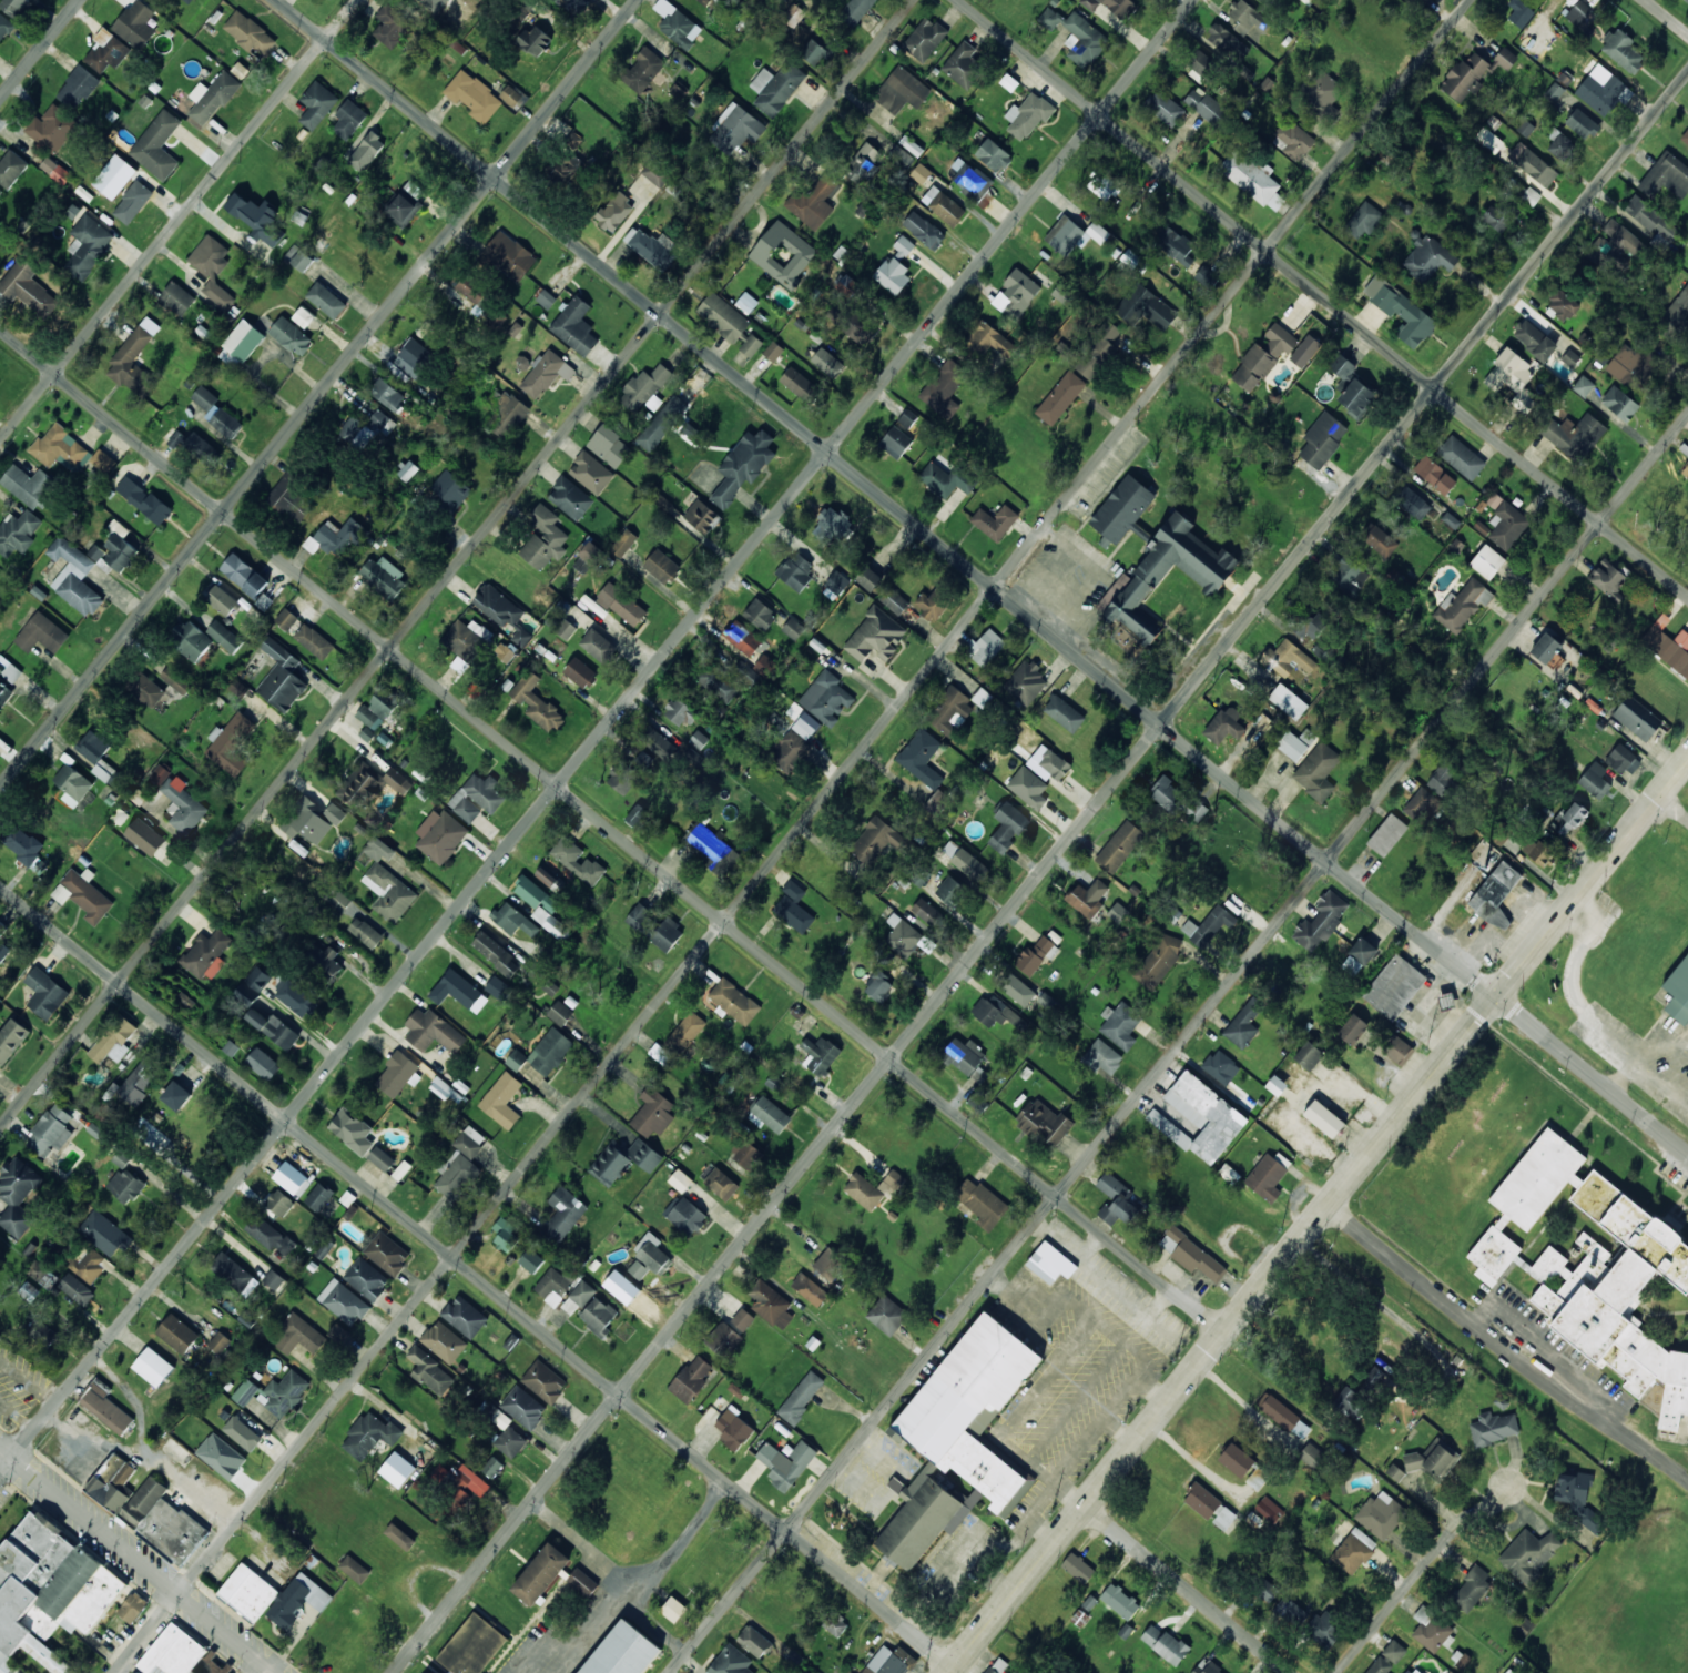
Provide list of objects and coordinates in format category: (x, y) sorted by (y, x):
building: (1687, 0)
building: (187, 1)
building: (704, 1)
building: (1308, 1)
building: (573, 4)
building: (1114, 6)
building: (17, 7)
building: (521, 11)
building: (855, 11)
building: (1578, 11)
building: (1521, 12)
building: (1243, 16)
road: (1667, 17)
building: (135, 23)
building: (390, 24)
building: (678, 24)
building: (4, 26)
building: (248, 32)
building: (1077, 34)
building: (925, 38)
building: (535, 40)
building: (1228, 41)
road: (40, 49)
building: (1623, 50)
building: (106, 51)
building: (814, 52)
building: (1201, 62)
building: (963, 65)
building: (644, 70)
building: (1474, 72)
building: (78, 88)
building: (776, 88)
building: (1601, 89)
building: (902, 90)
building: (1554, 92)
building: (1323, 94)
building: (472, 95)
building: (512, 95)
building: (212, 97)
building: (317, 104)
building: (1163, 107)
building: (1207, 107)
building: (1028, 114)
building: (349, 119)
building: (1582, 123)
building: (52, 128)
building: (735, 128)
building: (570, 136)
building: (1685, 136)
building: (1489, 139)
building: (1293, 140)
building: (157, 145)
building: (1562, 146)
building: (367, 151)
building: (903, 155)
building: (993, 155)
building: (864, 162)
building: (1533, 164)
building: (568, 165)
building: (11, 168)
building: (55, 170)
building: (657, 172)
building: (921, 173)
building: (1666, 176)
building: (1252, 178)
building: (970, 179)
building: (1102, 185)
building: (1522, 191)
building: (133, 202)
building: (814, 202)
building: (405, 205)
building: (943, 205)
building: (614, 212)
building: (1643, 212)
building: (1501, 214)
building: (255, 215)
road: (177, 220)
building: (1362, 220)
building: (924, 230)
building: (1074, 234)
building: (1176, 245)
building: (88, 246)
building: (652, 246)
building: (1619, 246)
building: (783, 254)
building: (510, 255)
building: (299, 257)
building: (1427, 258)
building: (895, 267)
building: (212, 268)
building: (1206, 276)
building: (847, 285)
building: (28, 288)
building: (474, 291)
building: (1016, 293)
building: (177, 297)
road: (1323, 297)
building: (326, 300)
building: (746, 302)
building: (1562, 304)
building: (1146, 307)
building: (1678, 308)
building: (1401, 311)
building: (304, 316)
building: (723, 316)
building: (850, 320)
building: (574, 325)
building: (291, 335)
building: (988, 339)
building: (1534, 339)
building: (242, 342)
building: (751, 345)
building: (1097, 349)
building: (773, 351)
building: (133, 357)
building: (414, 357)
building: (1263, 357)
building: (1570, 357)
building: (826, 362)
building: (1628, 365)
building: (1342, 371)
building: (546, 373)
building: (1514, 381)
building: (800, 385)
building: (1583, 385)
building: (647, 387)
building: (944, 387)
road: (317, 393)
building: (388, 394)
building: (1060, 397)
building: (1356, 397)
building: (1619, 403)
building: (216, 413)
building: (504, 414)
building: (664, 419)
building: (363, 429)
building: (899, 434)
building: (1575, 434)
building: (1323, 438)
building: (195, 445)
building: (610, 446)
building: (61, 448)
building: (1462, 457)
building: (103, 463)
building: (743, 465)
building: (408, 470)
building: (1685, 470)
building: (591, 472)
building: (1435, 474)
building: (945, 479)
building: (30, 485)
building: (451, 488)
building: (289, 497)
building: (570, 498)
building: (143, 499)
building: (1494, 500)
building: (1412, 503)
building: (1122, 510)
building: (701, 516)
building: (995, 521)
building: (832, 525)
building: (1507, 525)
building: (18, 531)
building: (337, 536)
building: (545, 538)
building: (1380, 540)
building: (623, 543)
building: (590, 557)
building: (1487, 561)
road: (455, 562)
building: (662, 566)
building: (796, 571)
building: (1346, 574)
building: (244, 575)
building: (73, 576)
building: (1607, 576)
building: (384, 577)
building: (868, 578)
road: (982, 578)
building: (1136, 582)
building: (836, 585)
building: (221, 599)
building: (263, 600)
building: (894, 600)
building: (933, 602)
building: (620, 604)
building: (497, 605)
building: (1462, 605)
building: (760, 615)
building: (1315, 626)
building: (794, 628)
building: (566, 629)
building: (42, 633)
building: (304, 633)
building: (875, 635)
building: (224, 636)
building: (742, 638)
building: (191, 640)
building: (465, 641)
building: (1668, 645)
building: (598, 646)
building: (985, 647)
building: (1546, 648)
building: (1288, 658)
building: (580, 672)
building: (281, 677)
building: (8, 678)
building: (728, 679)
building: (176, 680)
building: (1026, 682)
building: (146, 690)
building: (826, 697)
building: (1288, 701)
building: (537, 702)
building: (376, 712)
building: (680, 712)
building: (950, 712)
building: (1064, 712)
building: (1637, 718)
building: (1226, 724)
road: (594, 736)
building: (699, 740)
building: (230, 743)
building: (659, 743)
building: (1292, 746)
building: (792, 747)
building: (96, 752)
building: (922, 758)
building: (1624, 759)
building: (1048, 763)
building: (629, 771)
building: (1318, 771)
building: (160, 773)
building: (1443, 779)
building: (1595, 780)
building: (72, 784)
building: (370, 784)
building: (1028, 787)
building: (476, 797)
building: (1176, 799)
building: (938, 801)
building: (183, 805)
building: (1422, 805)
building: (335, 813)
building: (638, 815)
building: (1569, 818)
building: (307, 821)
building: (1008, 827)
road: (611, 830)
building: (1387, 834)
building: (440, 835)
building: (145, 836)
road: (791, 836)
building: (876, 840)
building: (24, 846)
building: (1119, 846)
building: (711, 848)
building: (1538, 851)
building: (965, 860)
building: (578, 861)
road: (1039, 872)
building: (921, 875)
building: (549, 879)
building: (387, 883)
building: (950, 890)
building: (84, 894)
building: (1495, 894)
building: (1088, 898)
building: (340, 901)
building: (541, 905)
building: (794, 908)
building: (927, 911)
building: (1117, 912)
building: (513, 919)
building: (1321, 921)
building: (1207, 925)
building: (655, 927)
building: (366, 932)
building: (903, 936)
building: (1363, 951)
building: (206, 954)
building: (497, 954)
building: (883, 954)
building: (1036, 955)
building: (1158, 960)
building: (328, 964)
building: (258, 977)
building: (878, 985)
building: (1394, 986)
building: (497, 987)
building: (1016, 988)
building: (459, 991)
building: (1678, 992)
building: (45, 993)
building: (245, 995)
building: (295, 997)
building: (1446, 1001)
building: (734, 1002)
building: (560, 1013)
building: (996, 1013)
building: (1120, 1024)
building: (1242, 1025)
building: (274, 1028)
building: (1352, 1028)
building: (687, 1031)
building: (434, 1032)
building: (11, 1037)
building: (114, 1040)
road: (1179, 1043)
building: (550, 1051)
building: (660, 1053)
building: (820, 1054)
building: (964, 1055)
building: (1309, 1055)
building: (1101, 1057)
building: (516, 1059)
building: (263, 1063)
building: (1221, 1066)
building: (396, 1074)
building: (139, 1082)
building: (1277, 1085)
building: (441, 1088)
building: (176, 1095)
building: (502, 1099)
building: (978, 1102)
building: (653, 1113)
building: (769, 1115)
building: (1200, 1117)
building: (1324, 1118)
building: (1045, 1123)
building: (353, 1130)
building: (51, 1132)
building: (469, 1142)
building: (644, 1154)
building: (748, 1155)
building: (122, 1158)
building: (382, 1158)
building: (610, 1165)
building: (403, 1169)
building: (456, 1175)
building: (1267, 1177)
building: (292, 1178)
building: (1537, 1179)
building: (680, 1180)
building: (721, 1183)
building: (892, 1183)
building: (125, 1185)
building: (864, 1190)
building: (18, 1195)
building: (319, 1196)
building: (1116, 1199)
building: (1135, 1199)
building: (279, 1203)
building: (982, 1203)
building: (563, 1213)
building: (685, 1215)
road: (1318, 1215)
building: (104, 1233)
building: (505, 1234)
building: (268, 1235)
building: (1594, 1248)
building: (387, 1253)
building: (1191, 1254)
building: (1493, 1255)
building: (650, 1257)
building: (531, 1260)
building: (1048, 1261)
building: (828, 1263)
building: (38, 1270)
building: (232, 1271)
road: (475, 1276)
building: (366, 1278)
building: (274, 1279)
building: (556, 1284)
building: (77, 1289)
building: (811, 1289)
building: (1618, 1296)
building: (578, 1297)
building: (343, 1301)
building: (771, 1304)
building: (887, 1315)
building: (465, 1316)
building: (598, 1316)
building: (743, 1319)
building: (44, 1334)
building: (177, 1334)
building: (298, 1336)
building: (723, 1339)
building: (218, 1341)
building: (444, 1341)
building: (153, 1367)
building: (430, 1370)
building: (691, 1379)
building: (545, 1381)
building: (245, 1391)
building: (284, 1393)
building: (801, 1397)
building: (1350, 1402)
building: (105, 1407)
building: (523, 1407)
building: (1278, 1411)
building: (733, 1427)
building: (1494, 1428)
building: (242, 1432)
building: (507, 1434)
building: (370, 1436)
building: (958, 1440)
building: (1312, 1454)
building: (222, 1456)
building: (1237, 1459)
building: (786, 1462)
building: (492, 1467)
building: (397, 1469)
building: (1395, 1472)
building: (1258, 1478)
building: (113, 1482)
building: (465, 1488)
building: (1577, 1498)
building: (1210, 1507)
building: (1269, 1509)
building: (1381, 1513)
building: (162, 1522)
building: (400, 1537)
building: (1354, 1550)
building: (1529, 1554)
road: (1427, 1557)
road: (136, 1561)
building: (1078, 1568)
building: (354, 1569)
building: (541, 1573)
building: (582, 1582)
road: (1187, 1588)
building: (1471, 1588)
building: (1265, 1590)
building: (49, 1591)
building: (248, 1591)
building: (297, 1599)
building: (1119, 1601)
building: (133, 1606)
building: (673, 1609)
building: (1290, 1610)
building: (835, 1623)
building: (1323, 1629)
building: (1432, 1630)
building: (754, 1641)
building: (1165, 1643)
building: (472, 1646)
building: (621, 1651)
building: (1394, 1651)
building: (173, 1652)
building: (888, 1661)
building: (731, 1662)
building: (214, 1665)
building: (997, 1665)
building: (1380, 1665)
building: (1206, 1667)
building: (1413, 1671)
building: (848, 1672)

